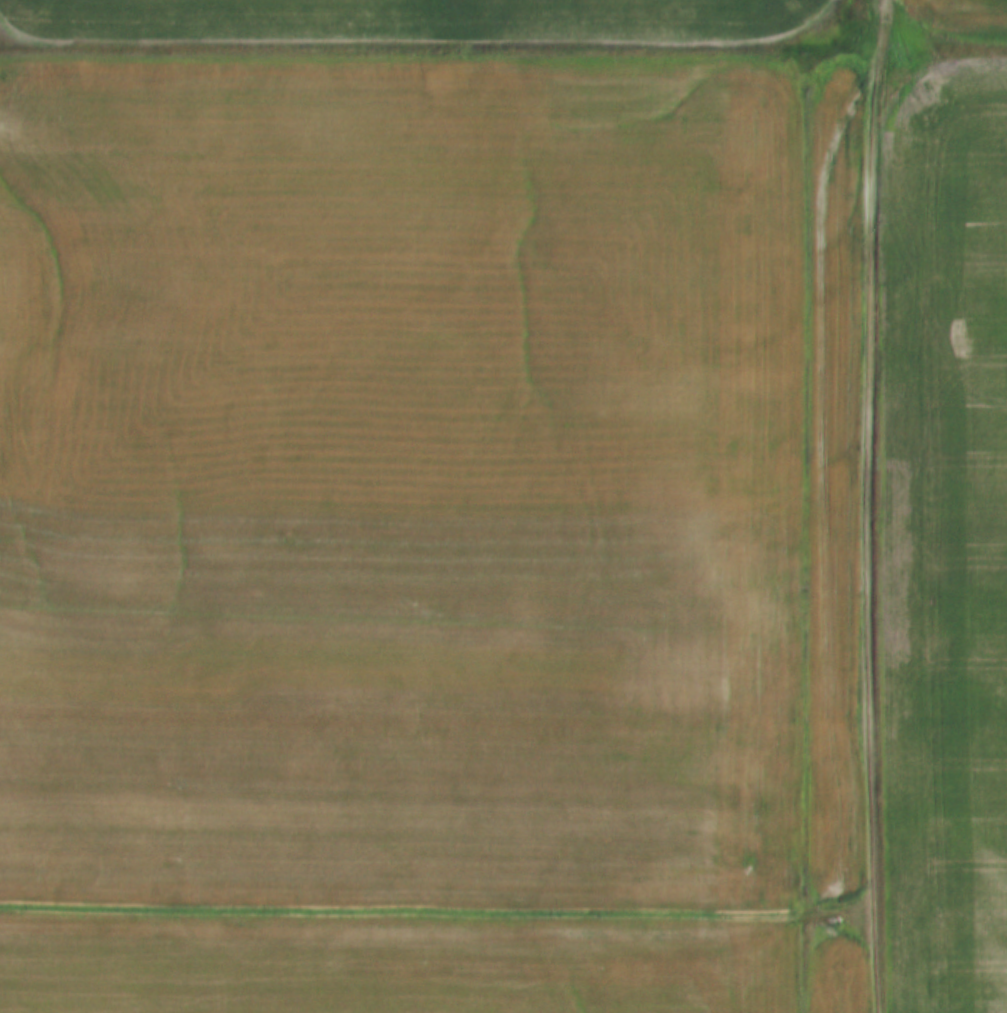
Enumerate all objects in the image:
road: (865, 506)

